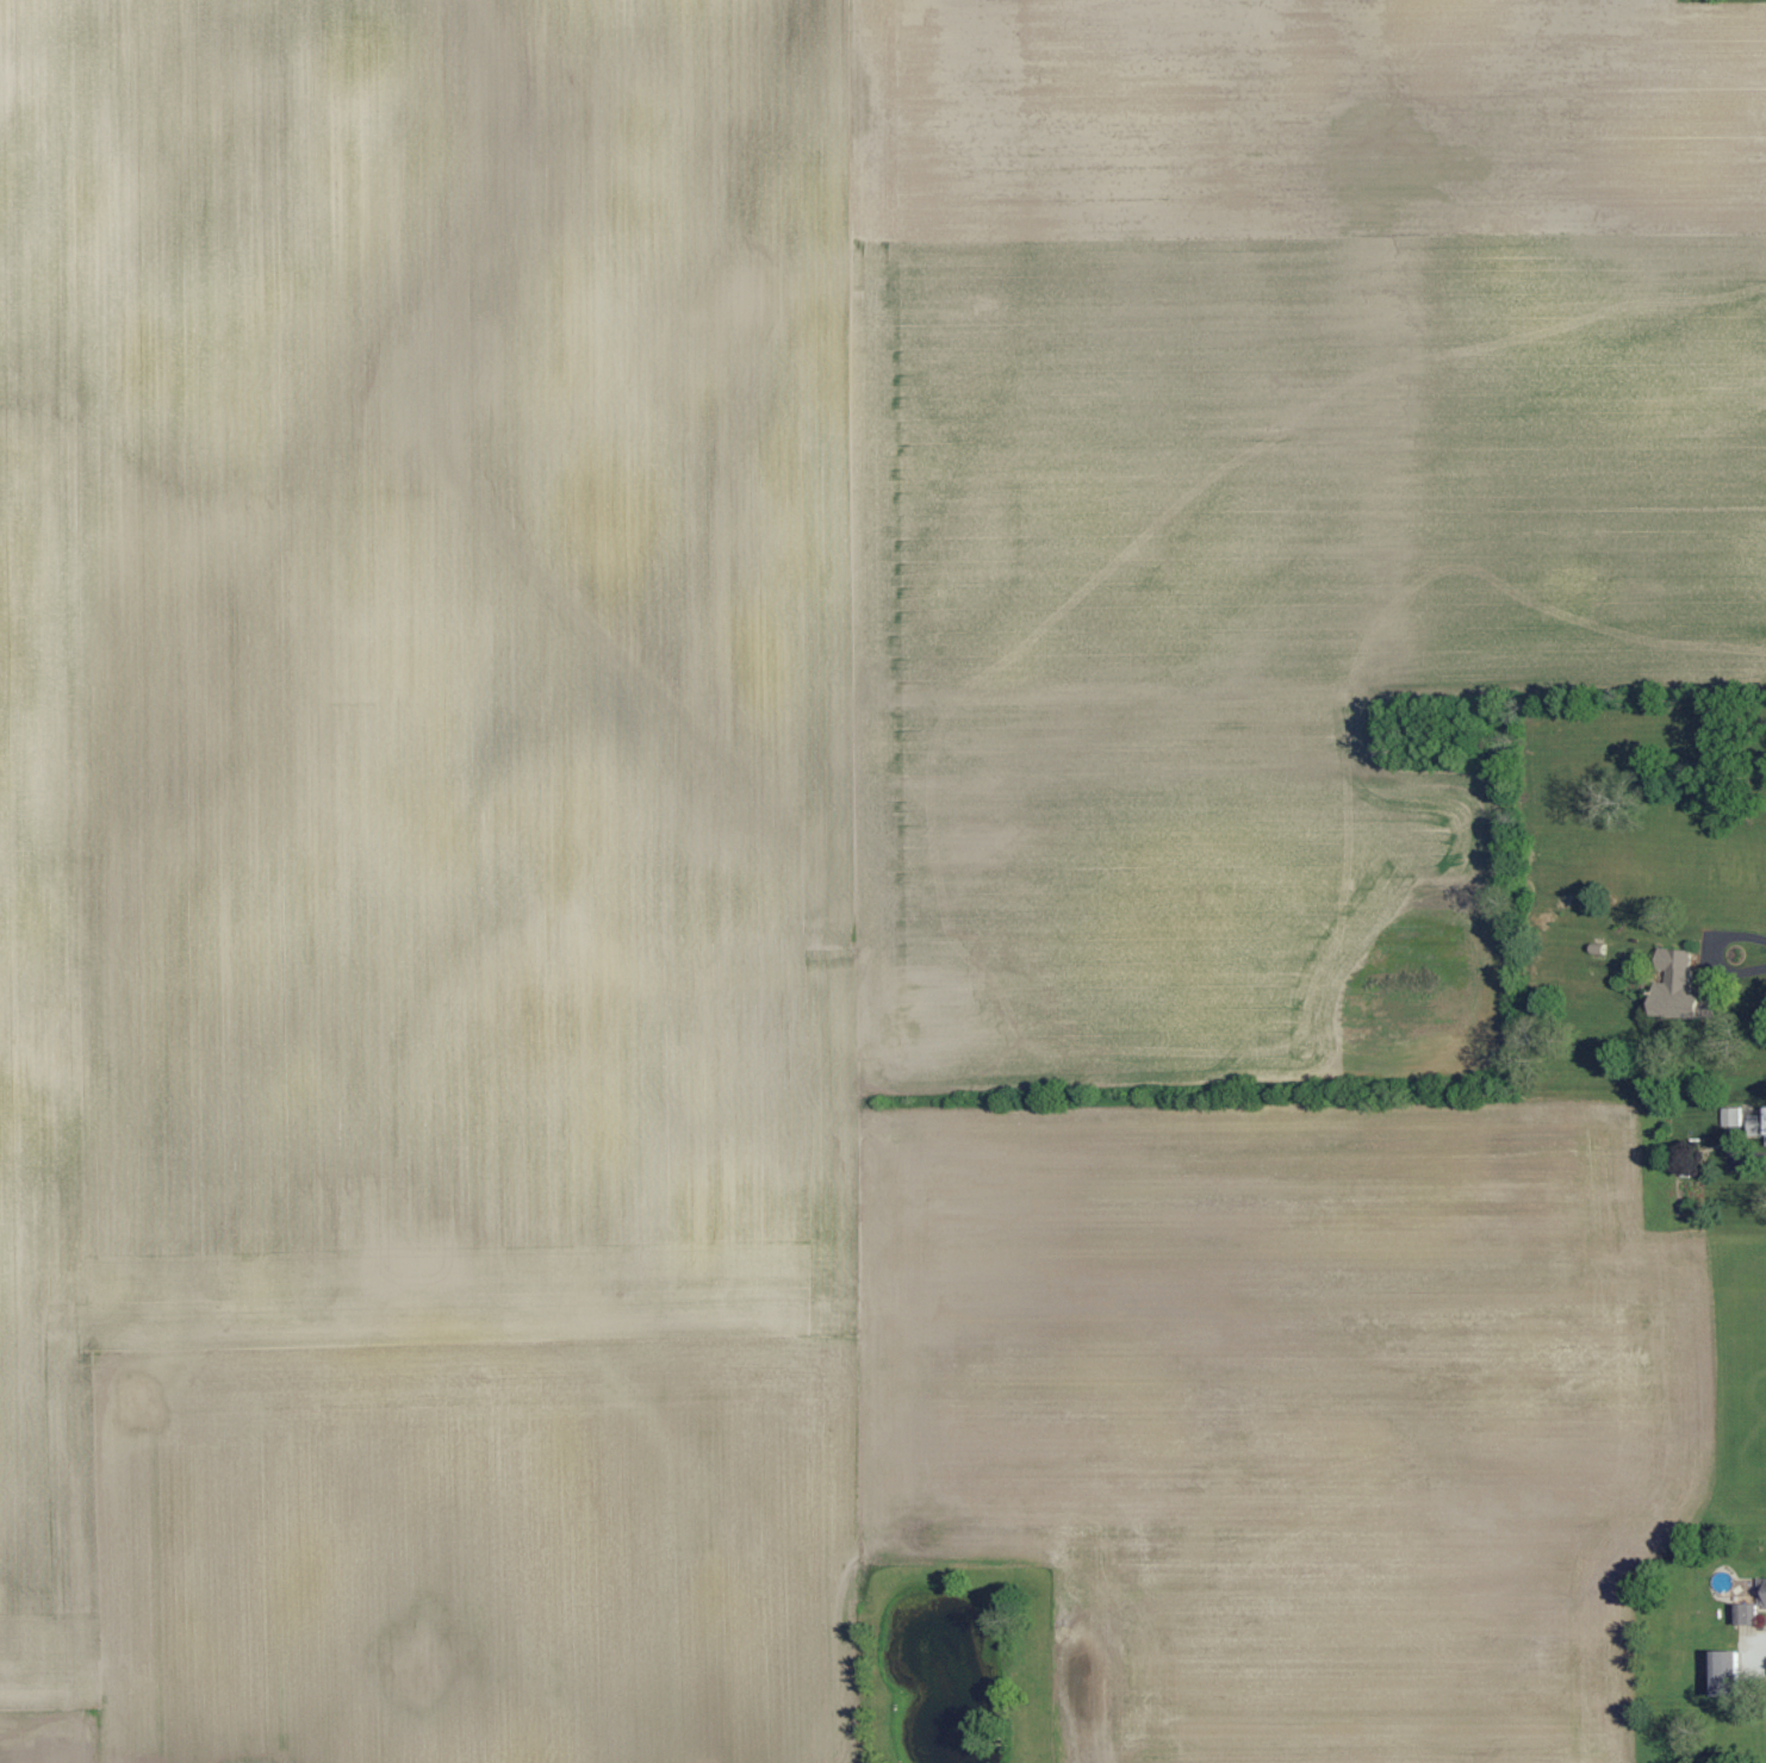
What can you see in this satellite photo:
road: (1718, 955)
building: (1671, 986)
building: (1729, 1116)
building: (1760, 1120)
building: (1761, 1600)
road: (1761, 1641)
building: (1721, 1674)

